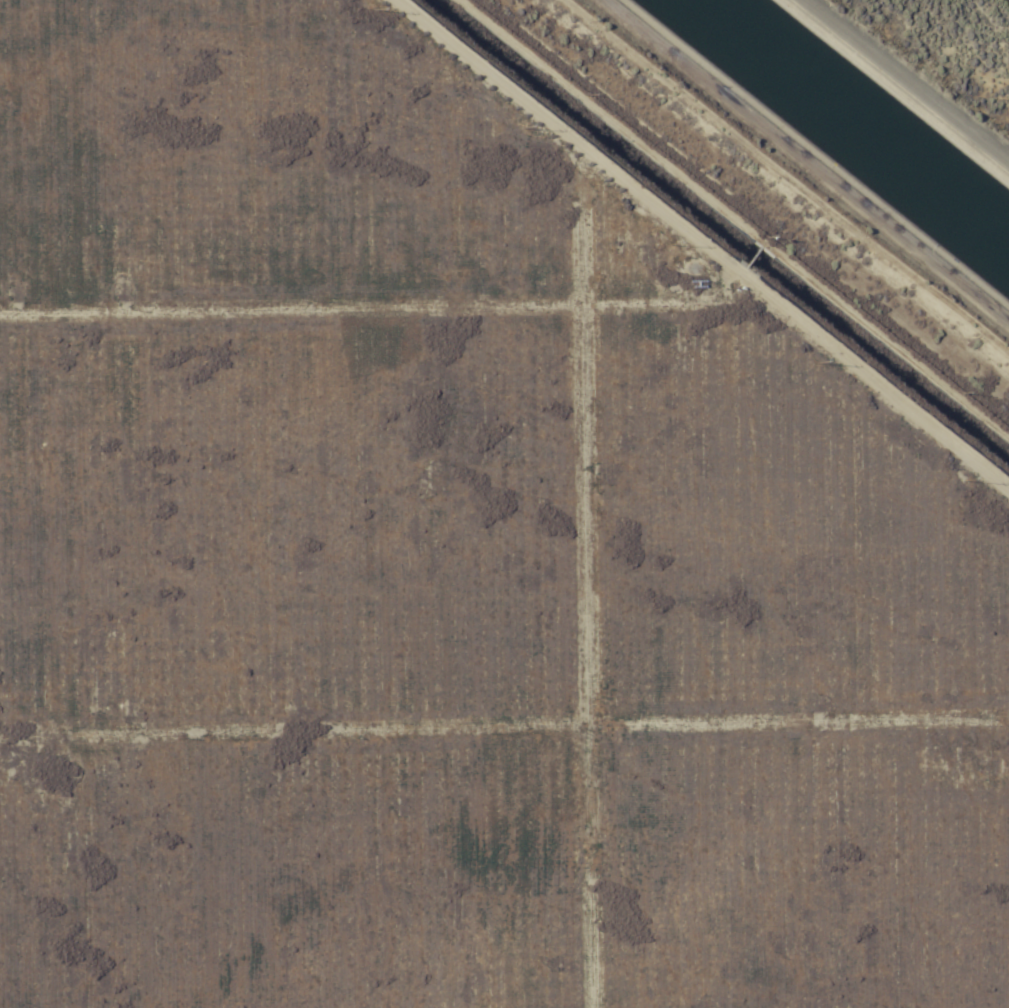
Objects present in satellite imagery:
road: (808, 159)

